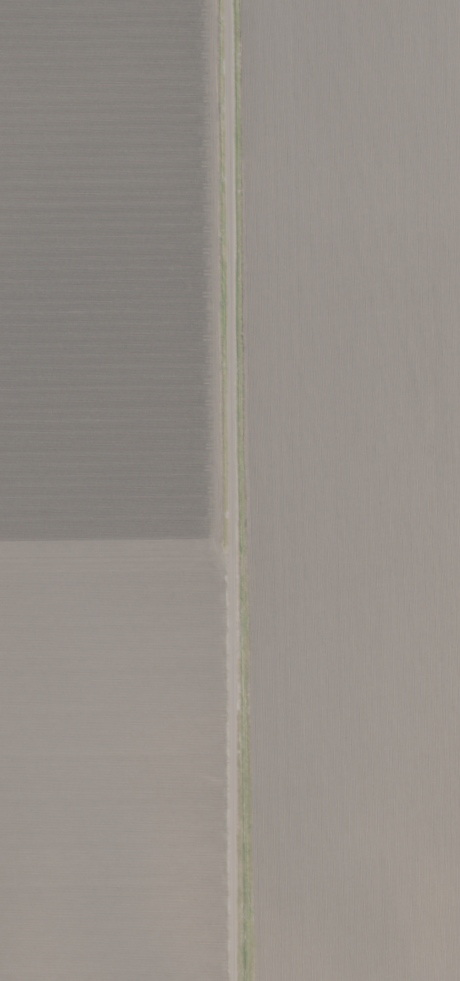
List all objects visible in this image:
road: (240, 490)

